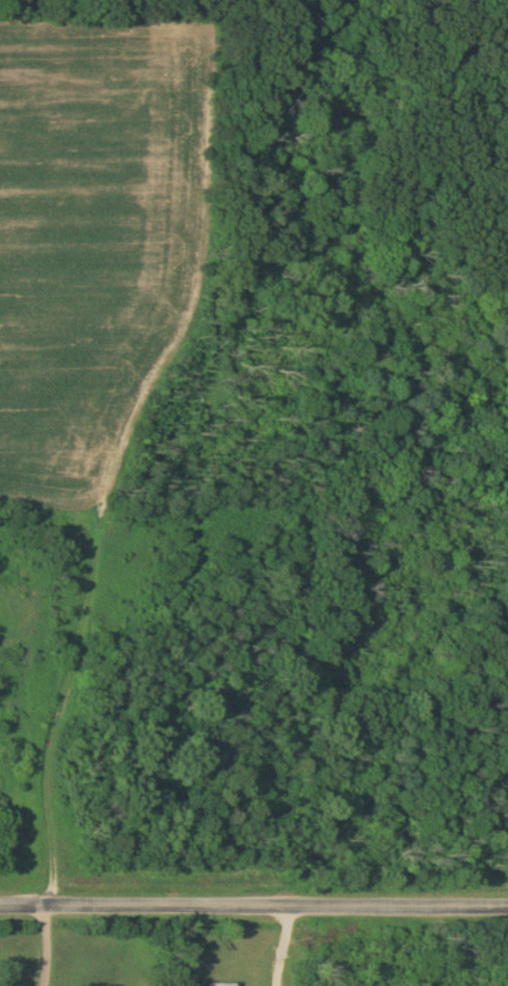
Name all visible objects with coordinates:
road: (254, 906)
road: (281, 945)
road: (48, 946)
building: (219, 985)
road: (275, 985)
road: (275, 985)

